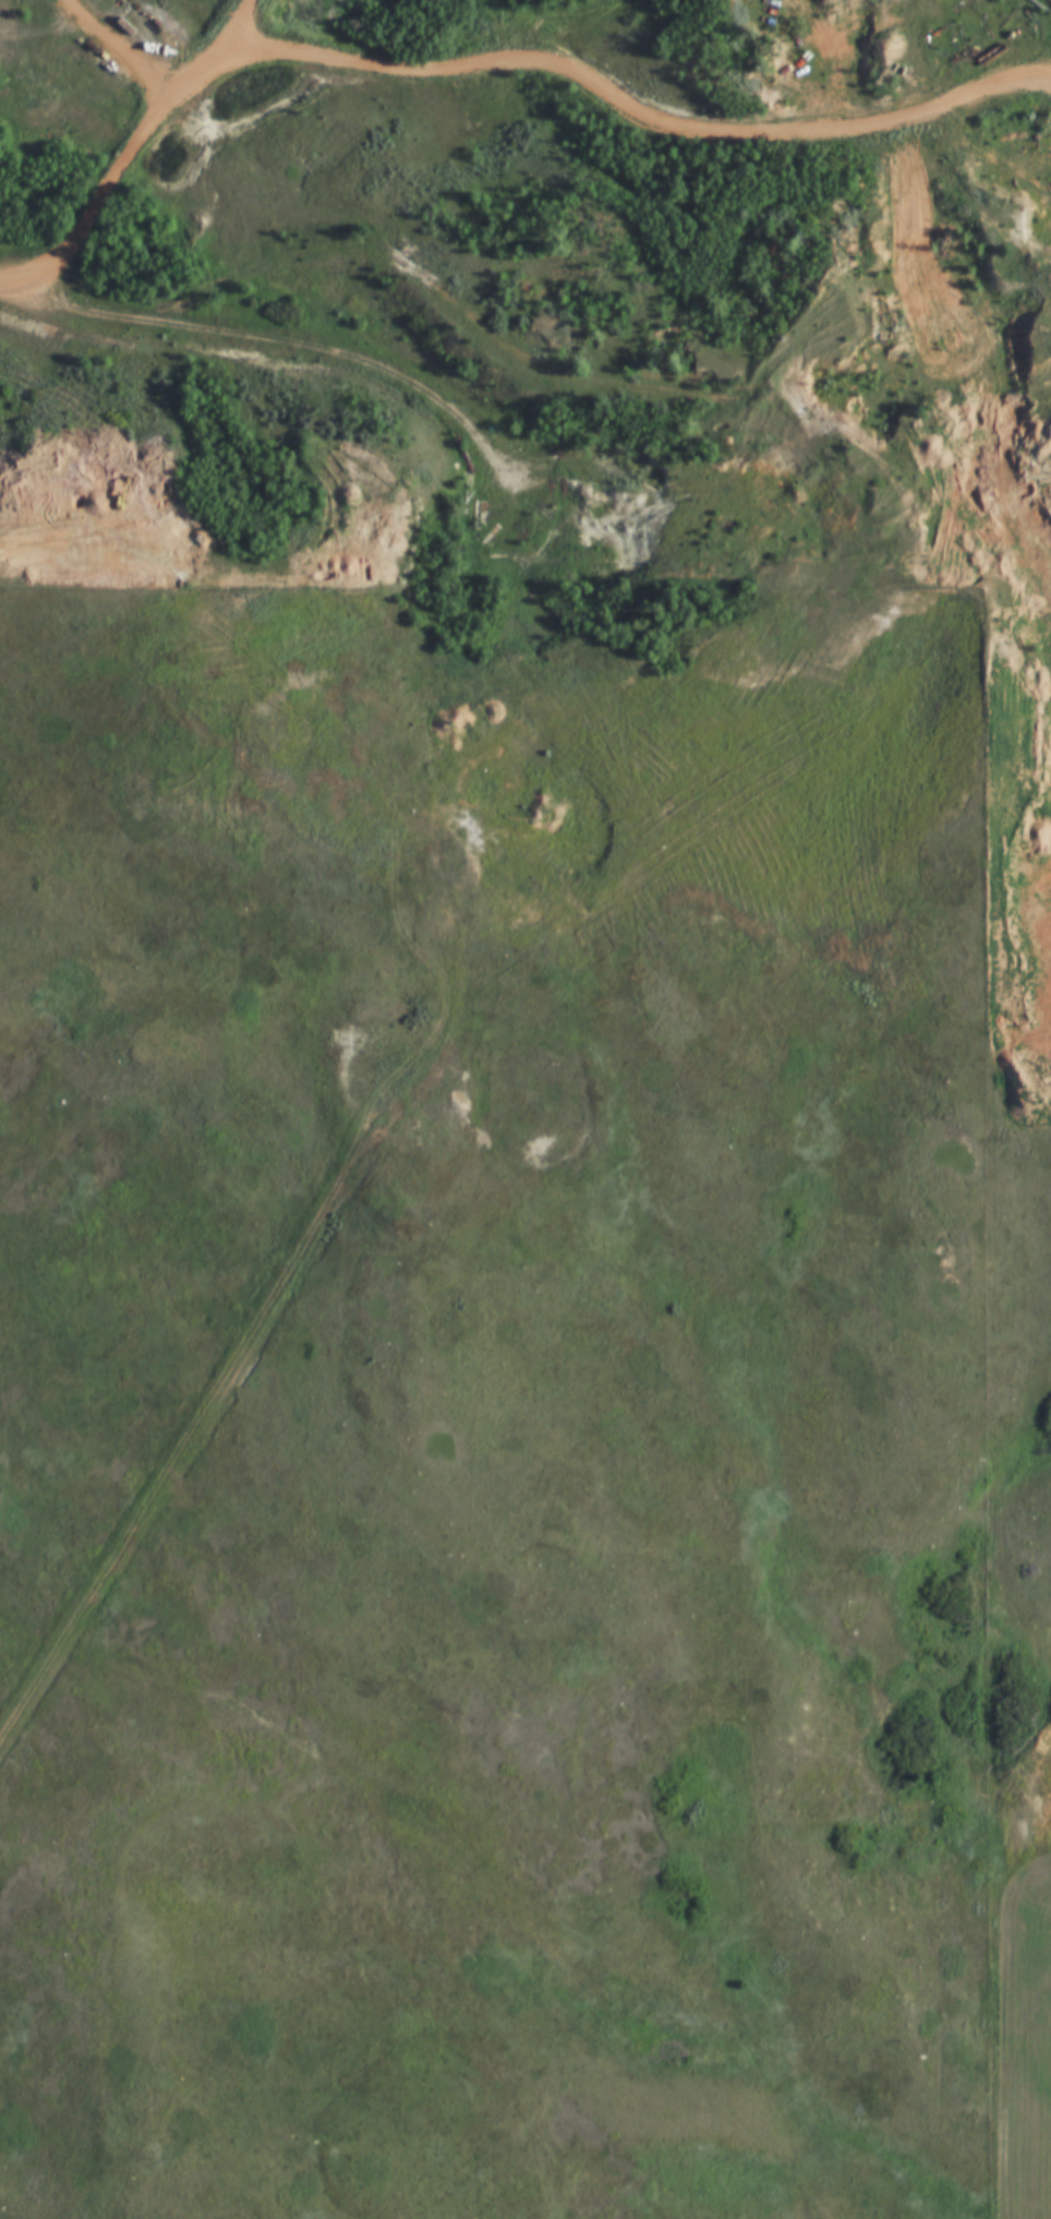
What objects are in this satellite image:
road: (416, 73)
road: (978, 86)
road: (983, 189)
road: (347, 359)
road: (516, 361)
quarry: (968, 536)

